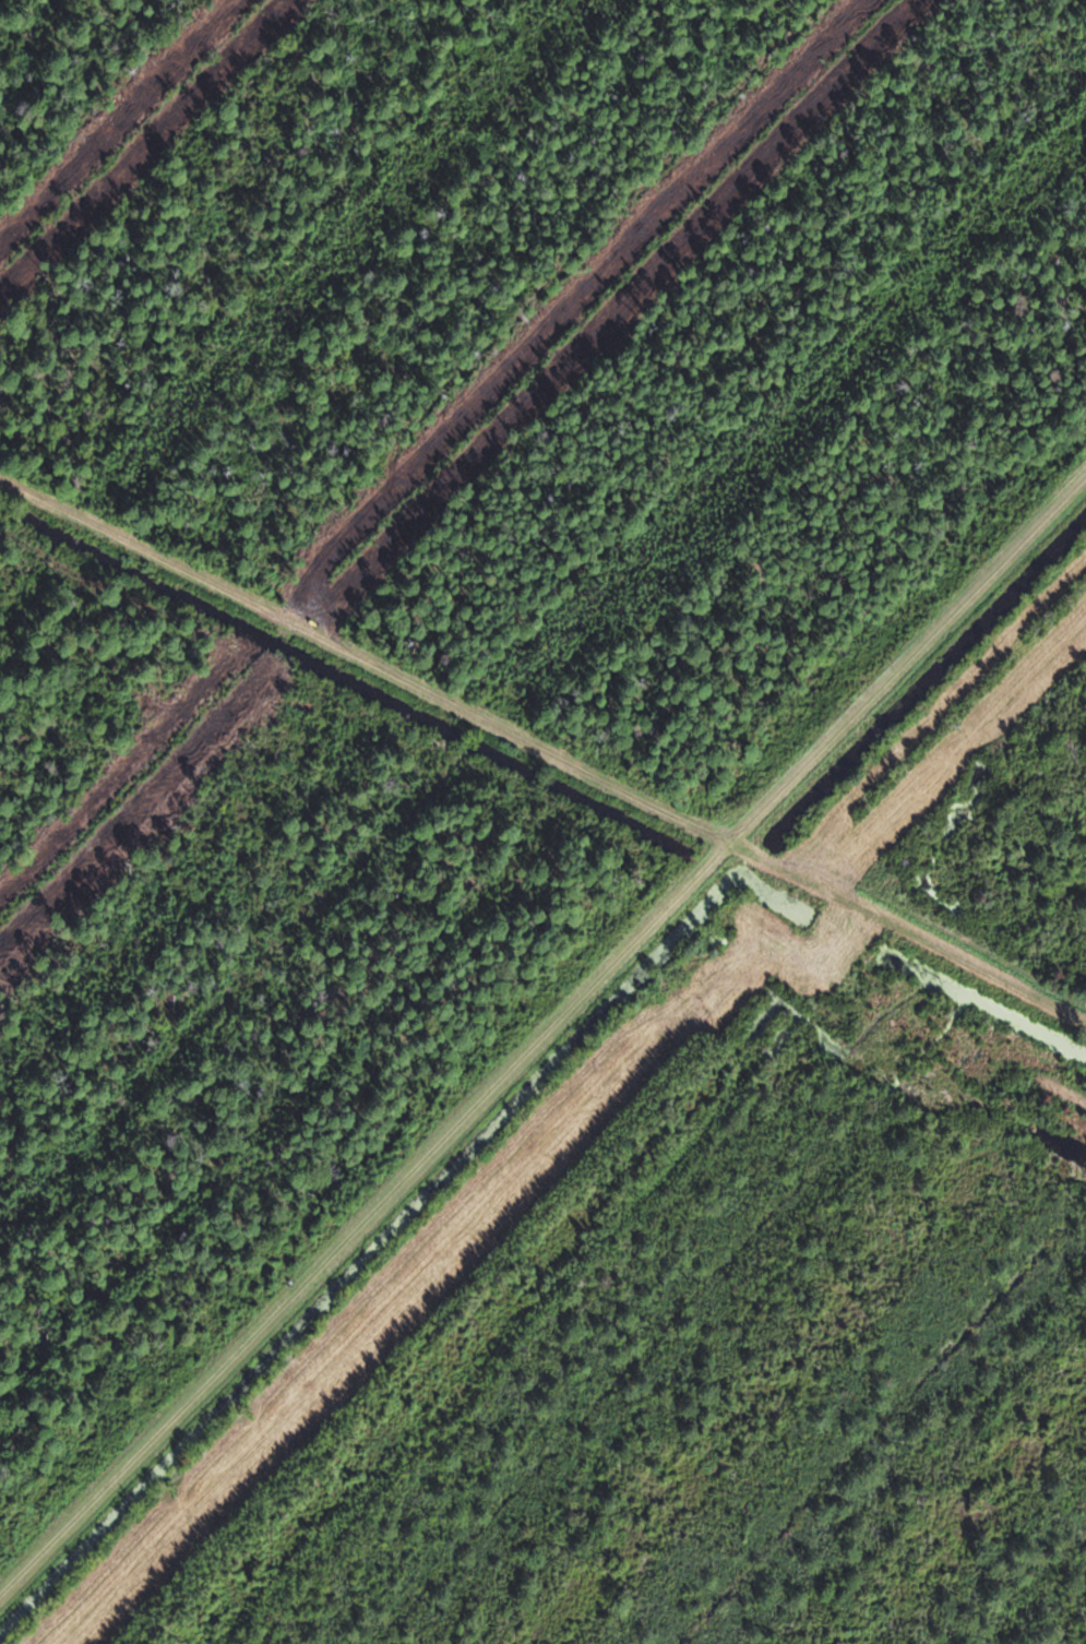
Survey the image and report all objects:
road: (545, 758)
road: (540, 1034)

